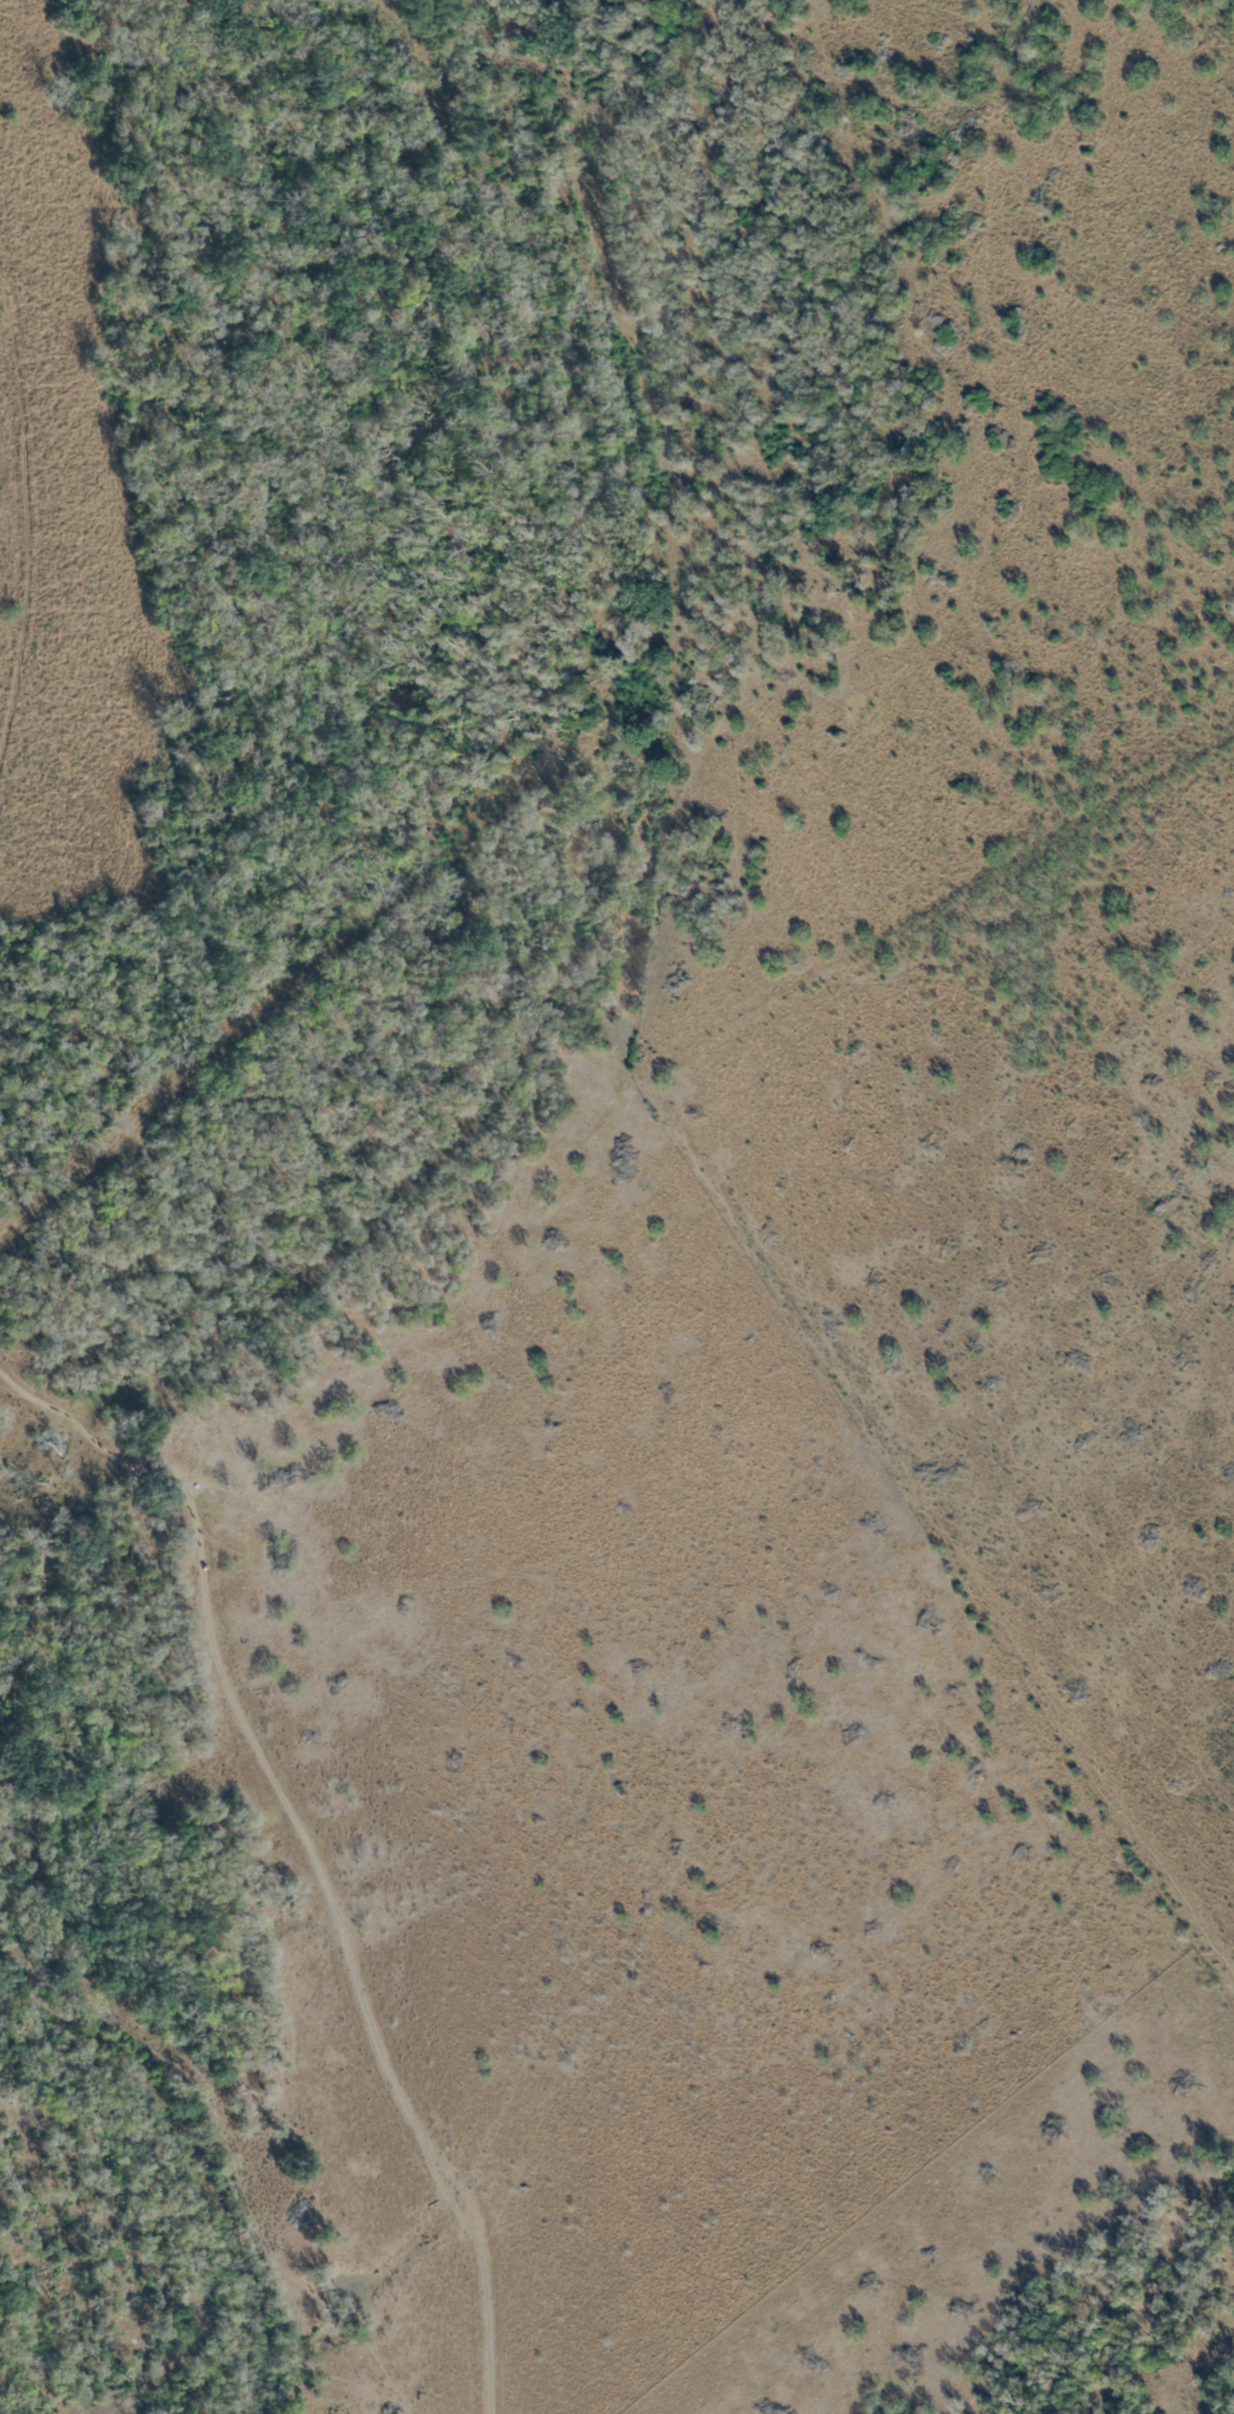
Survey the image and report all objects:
road: (39, 497)
road: (311, 1840)

